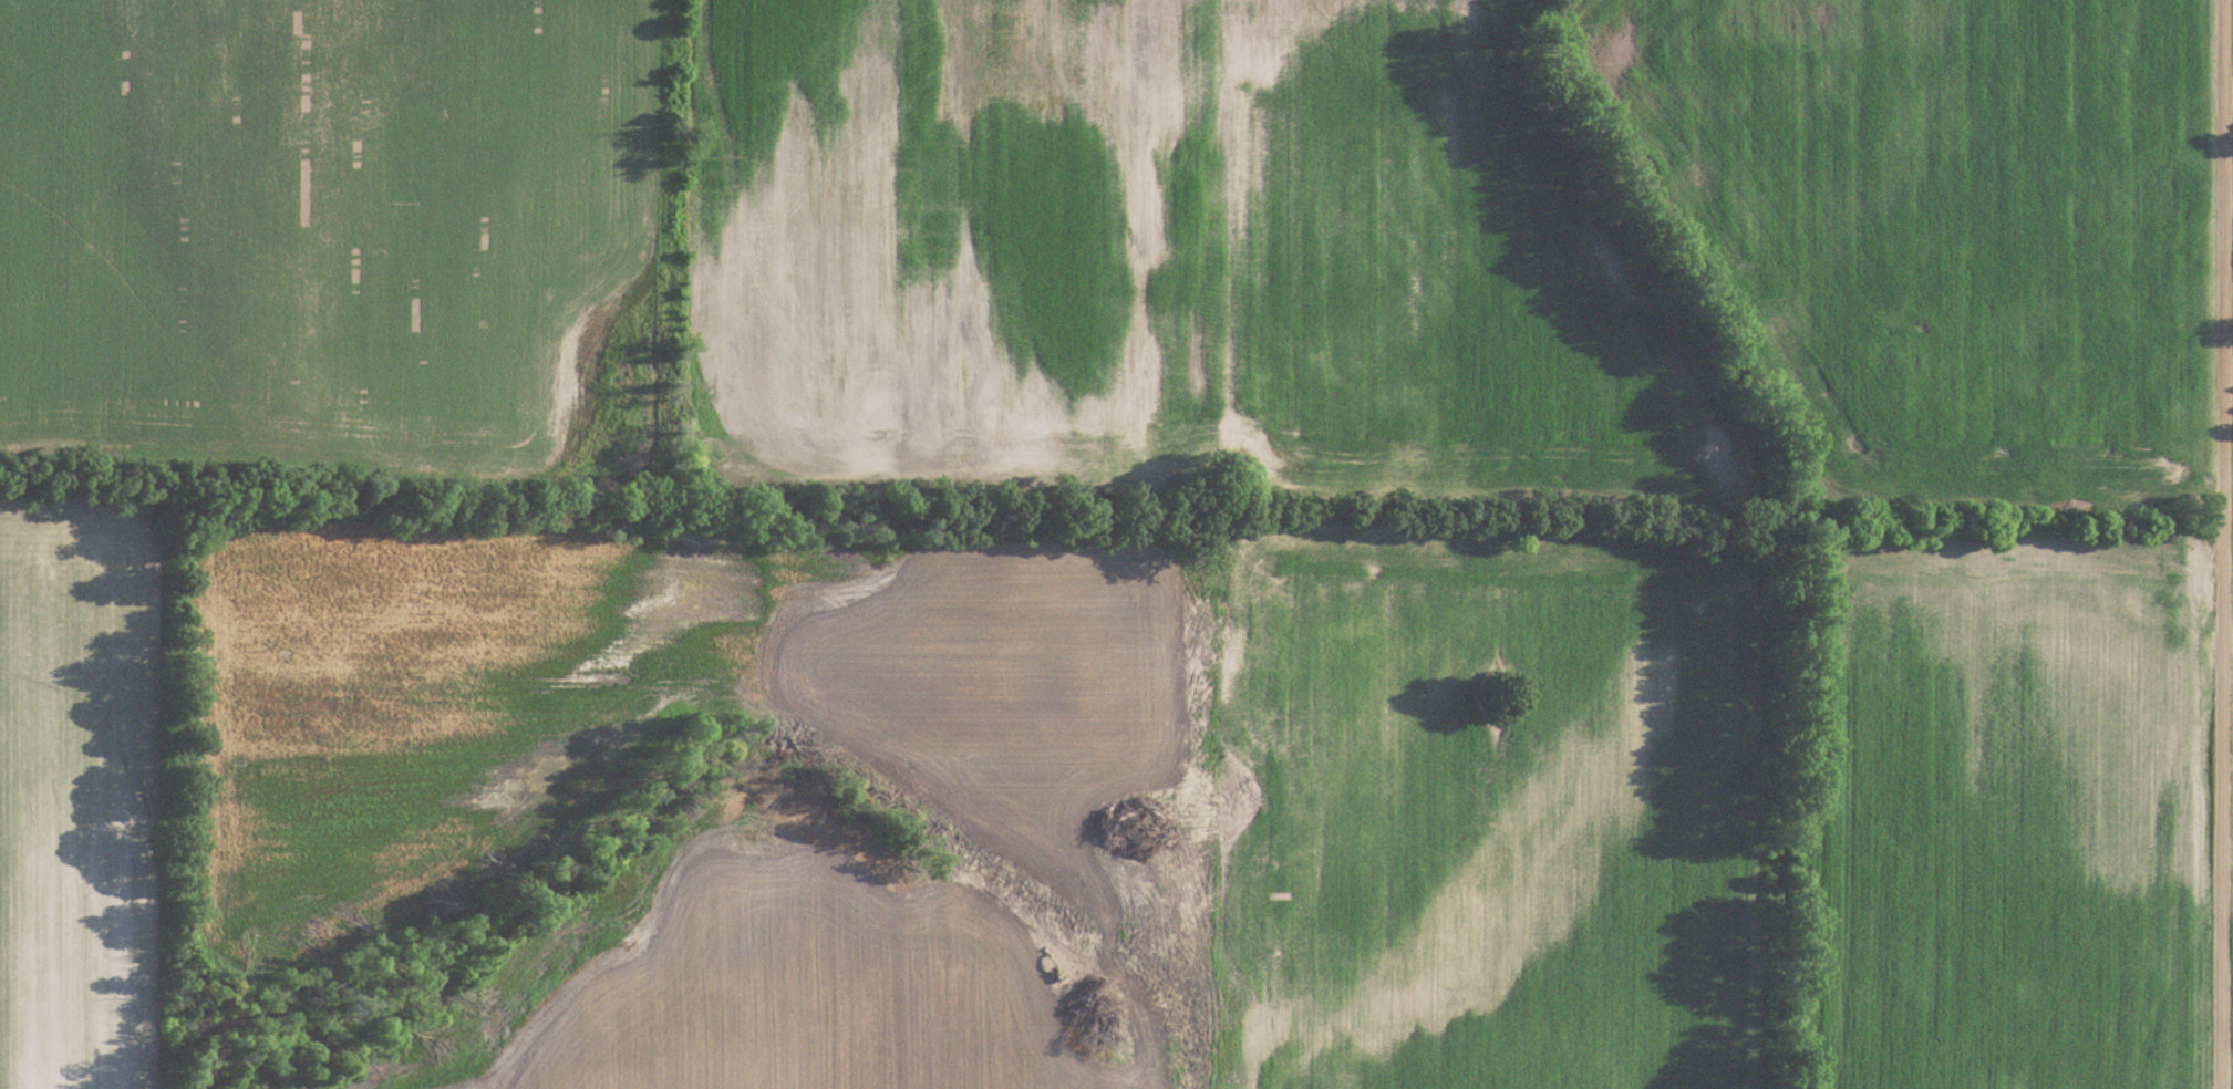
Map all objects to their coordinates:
road: (2223, 544)

